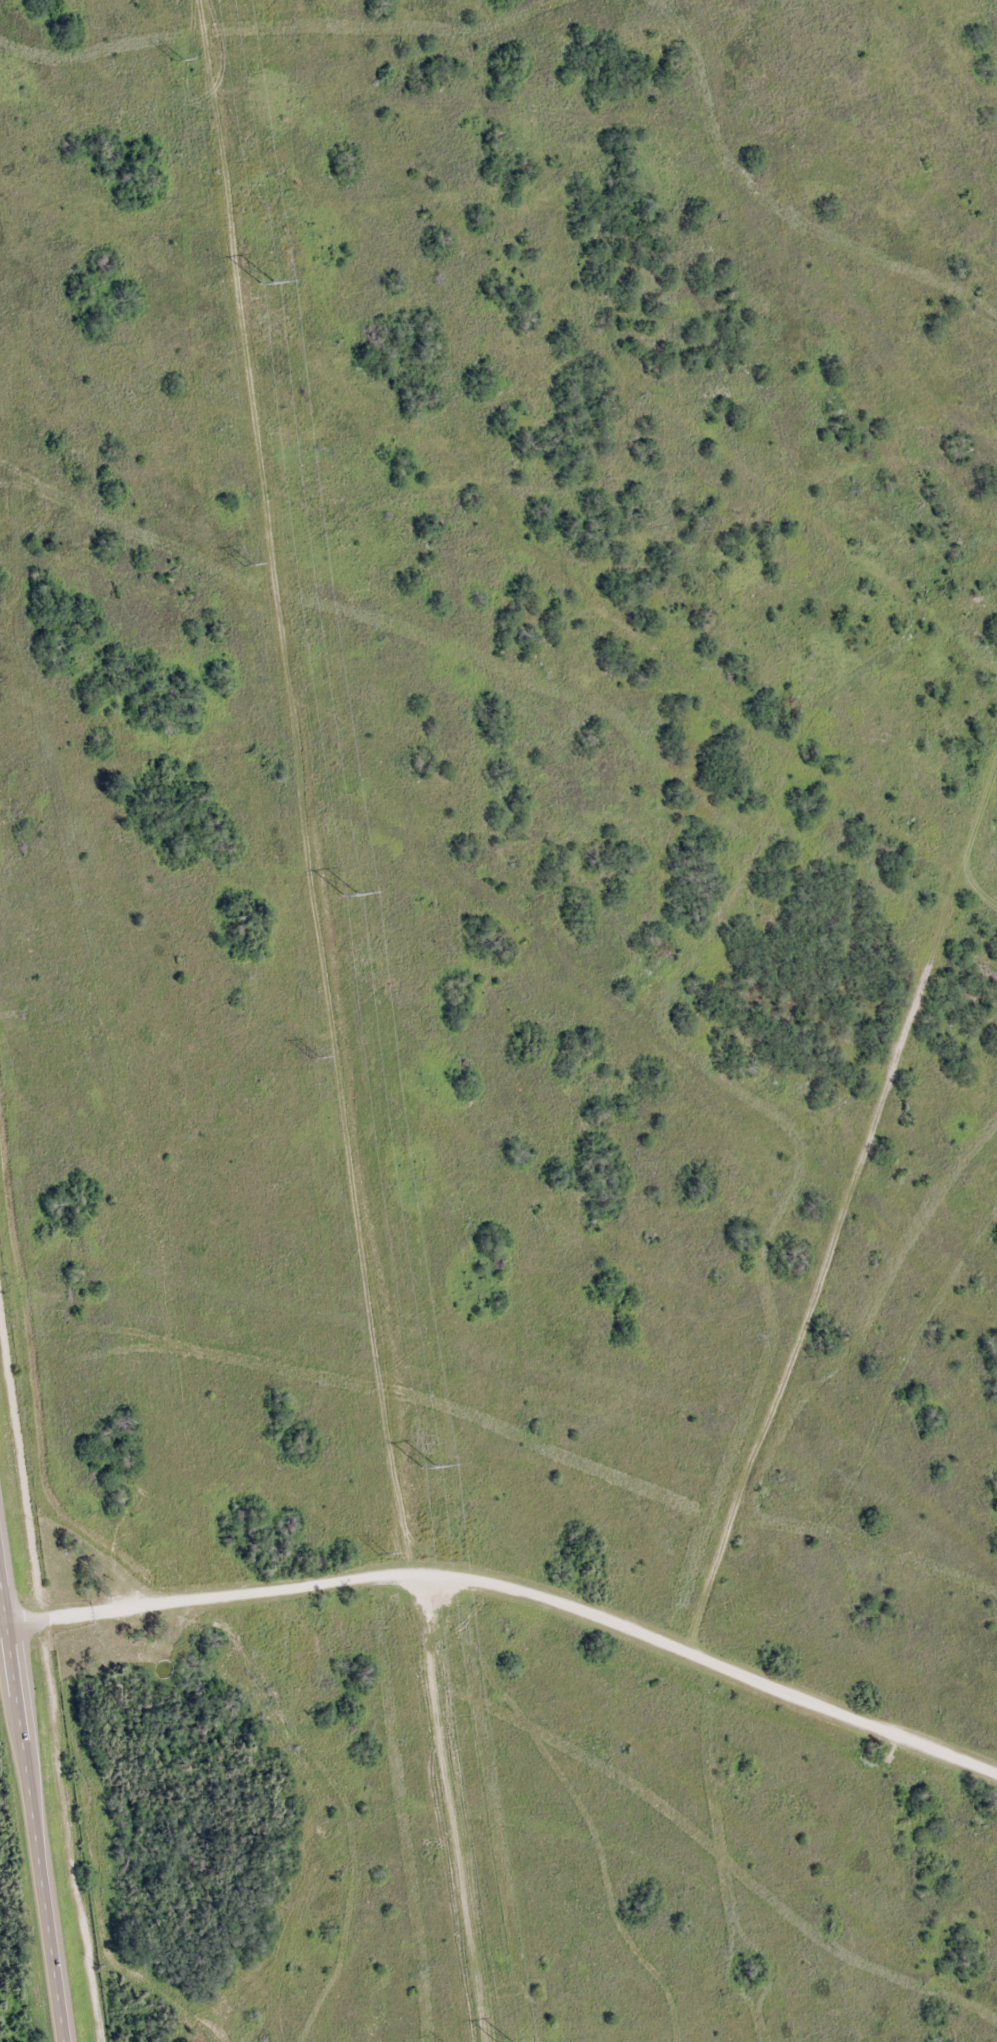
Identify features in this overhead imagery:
power tower: (177, 59)
power tower: (265, 282)
power tower: (245, 565)
power tower: (348, 895)
power tower: (313, 1057)
power tower: (426, 1468)
power tower: (381, 1554)
road: (512, 1592)
road: (34, 1799)
road: (993, 2032)

